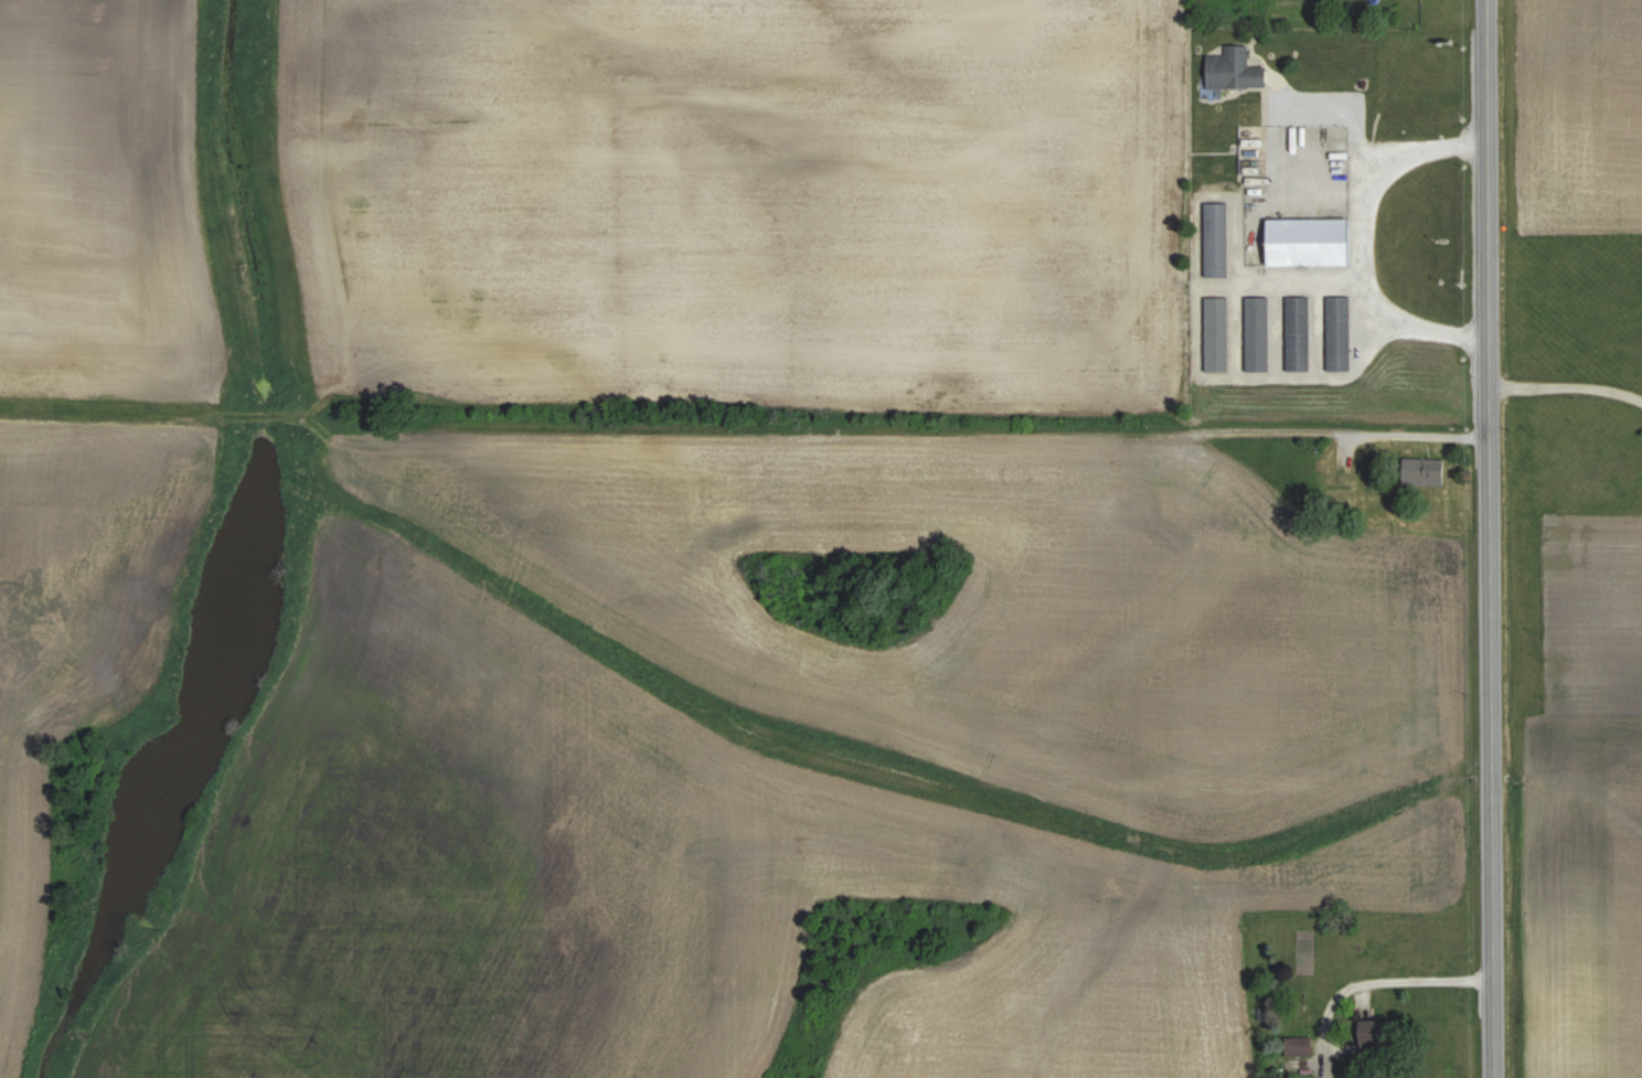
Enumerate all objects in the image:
building: (1230, 68)
road: (1353, 100)
building: (1249, 137)
building: (1213, 238)
building: (1302, 241)
road: (1351, 243)
building: (1294, 332)
building: (1335, 332)
building: (1213, 333)
building: (1254, 333)
road: (1561, 387)
road: (1394, 438)
building: (1420, 471)
road: (1483, 538)
road: (1410, 980)
building: (1375, 1032)
building: (1296, 1046)

